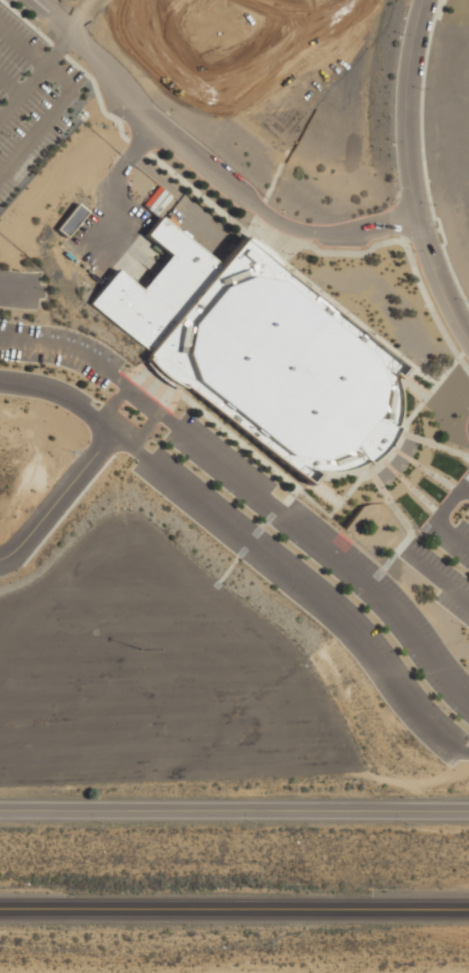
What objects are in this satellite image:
parking lot: (113, 8)
road: (437, 8)
road: (88, 17)
road: (28, 22)
road: (58, 49)
road: (58, 49)
road: (35, 57)
road: (10, 84)
road: (22, 90)
road: (98, 96)
parking lot: (31, 99)
road: (421, 117)
road: (36, 128)
street lamp: (126, 132)
road: (137, 145)
road: (202, 163)
road: (408, 176)
road: (107, 188)
road: (195, 190)
street lamp: (141, 195)
building: (70, 220)
road: (437, 228)
road: (440, 229)
road: (420, 230)
road: (403, 239)
road: (411, 261)
road: (453, 276)
road: (22, 287)
road: (360, 322)
parking lot: (47, 332)
road: (60, 347)
building: (261, 355)
road: (425, 398)
road: (142, 400)
road: (415, 437)
road: (237, 440)
road: (453, 450)
road: (408, 457)
road: (395, 471)
road: (434, 475)
road: (447, 482)
road: (379, 483)
road: (458, 486)
road: (466, 488)
road: (59, 493)
road: (290, 495)
road: (420, 496)
road: (343, 499)
road: (313, 501)
road: (450, 503)
road: (430, 506)
road: (397, 510)
road: (267, 519)
road: (403, 519)
road: (409, 533)
road: (452, 533)
road: (251, 537)
road: (407, 543)
parking lot: (446, 550)
road: (329, 552)
road: (235, 558)
road: (436, 574)
parking lot: (318, 577)
parking lot: (87, 692)
road: (465, 751)
road: (234, 809)
road: (234, 907)

